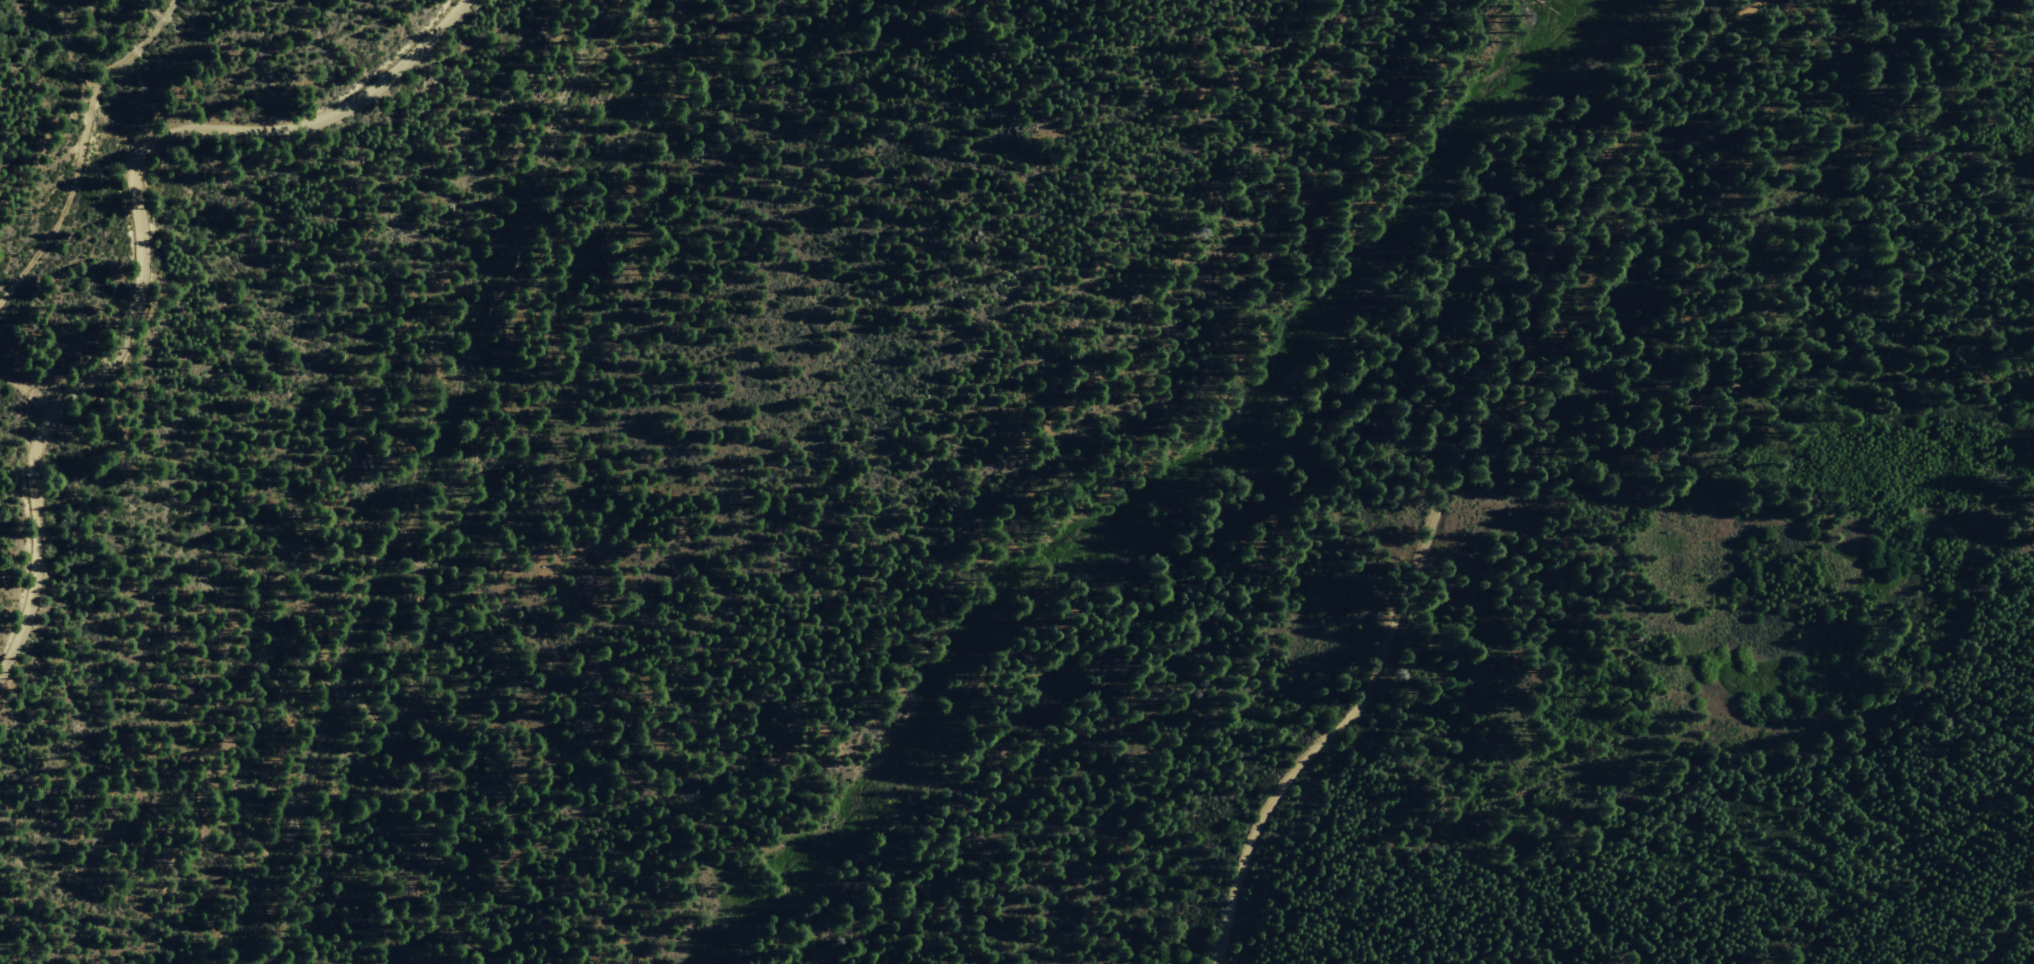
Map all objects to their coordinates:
road: (77, 144)
power tower: (48, 212)
road: (142, 247)
road: (32, 387)
road: (1456, 459)

